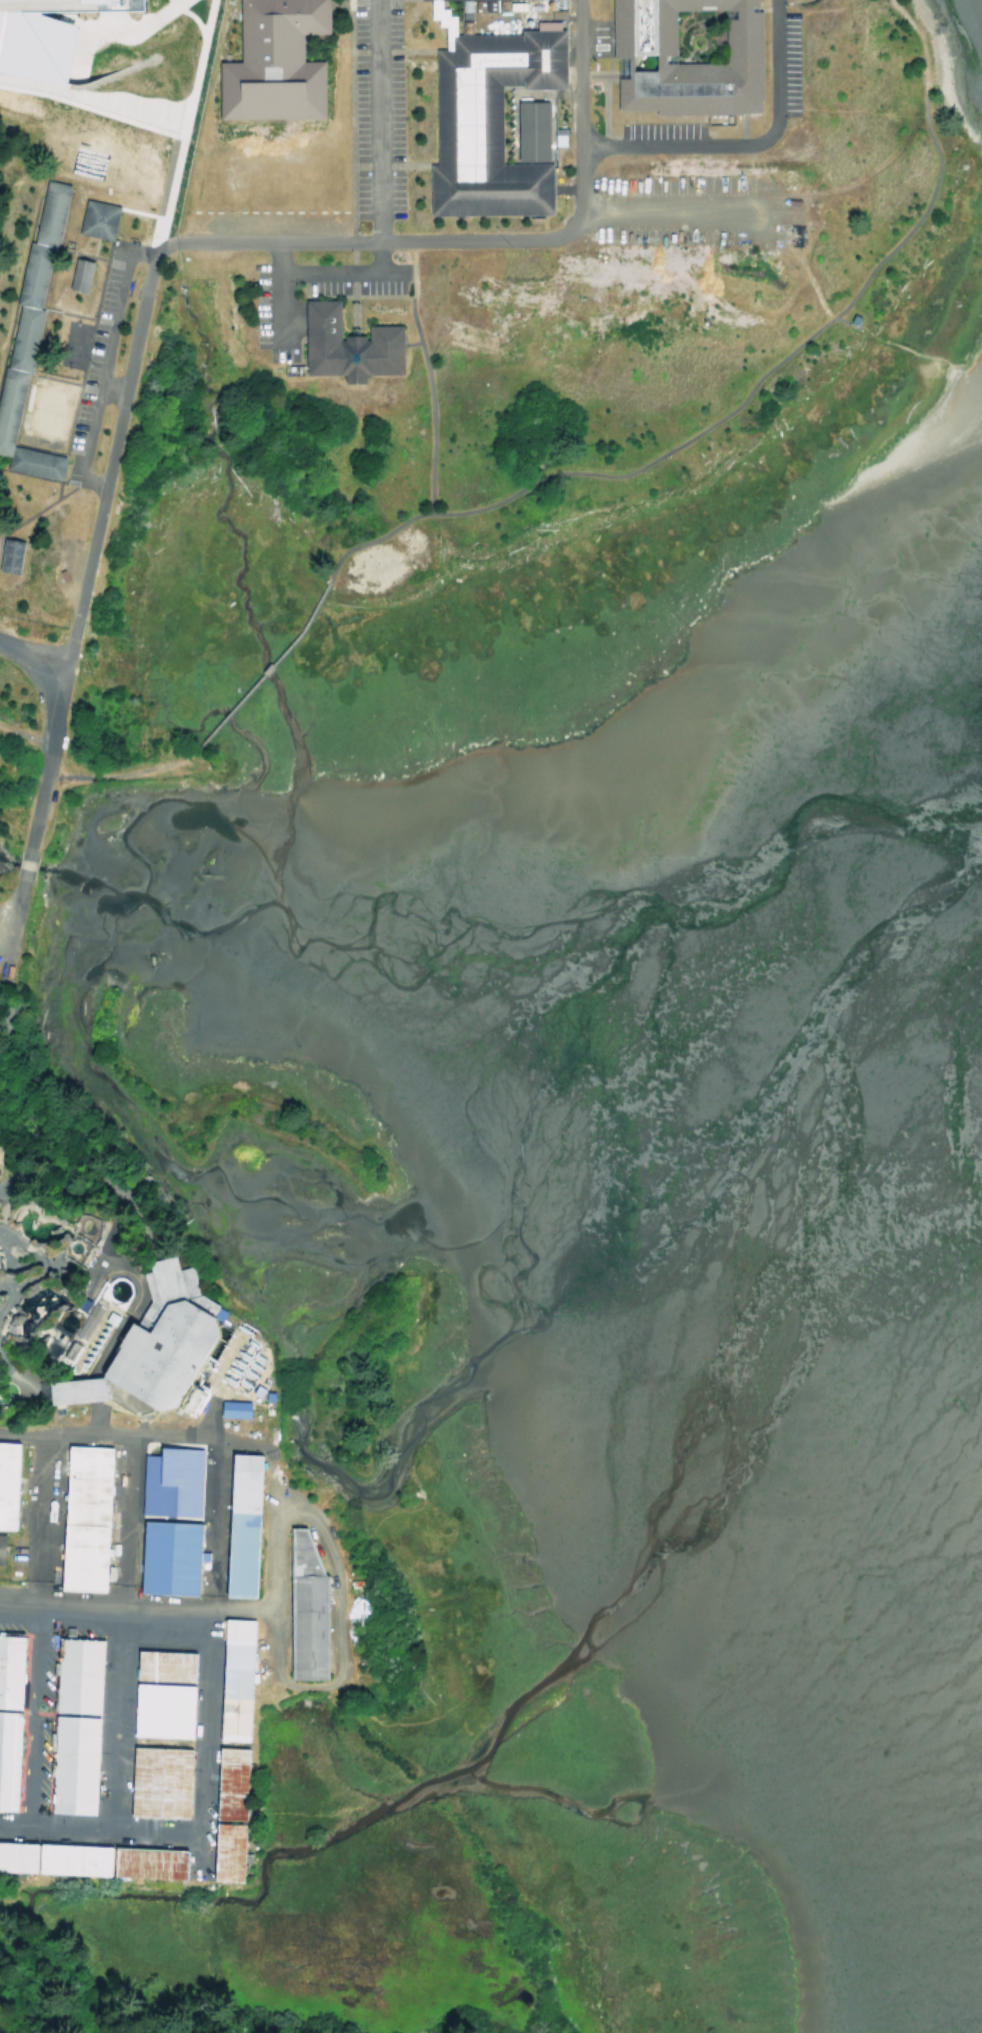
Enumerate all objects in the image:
road: (356, 1)
building: (134, 4)
building: (482, 5)
road: (164, 8)
road: (187, 15)
building: (37, 43)
road: (448, 48)
road: (409, 49)
road: (63, 58)
building: (686, 60)
building: (267, 63)
parking lot: (378, 108)
road: (185, 111)
road: (377, 120)
building: (490, 122)
road: (181, 126)
building: (530, 131)
building: (556, 136)
road: (744, 142)
road: (348, 167)
parking lot: (692, 209)
building: (51, 213)
road: (139, 213)
building: (97, 219)
road: (487, 240)
road: (345, 273)
building: (79, 274)
building: (33, 275)
road: (277, 292)
parking lot: (277, 327)
building: (24, 338)
building: (348, 345)
road: (104, 365)
road: (427, 376)
road: (750, 395)
building: (9, 405)
building: (36, 462)
building: (10, 554)
road: (81, 588)
road: (54, 655)
road: (268, 667)
road: (35, 671)
road: (122, 772)
road: (56, 1082)
road: (56, 1185)
road: (135, 1214)
road: (26, 1247)
road: (12, 1274)
road: (42, 1274)
road: (4, 1313)
building: (85, 1321)
building: (155, 1341)
road: (22, 1378)
building: (70, 1390)
building: (230, 1409)
road: (107, 1432)
building: (167, 1482)
building: (6, 1485)
building: (84, 1517)
building: (238, 1526)
building: (0, 1536)
building: (165, 1558)
road: (240, 1607)
building: (301, 1608)
road: (103, 1613)
road: (36, 1627)
road: (115, 1631)
road: (207, 1648)
building: (140, 1666)
building: (8, 1670)
road: (276, 1674)
building: (76, 1676)
building: (233, 1681)
building: (159, 1710)
building: (7, 1759)
building: (73, 1765)
building: (158, 1782)
building: (227, 1784)
road: (101, 1829)
building: (223, 1852)

